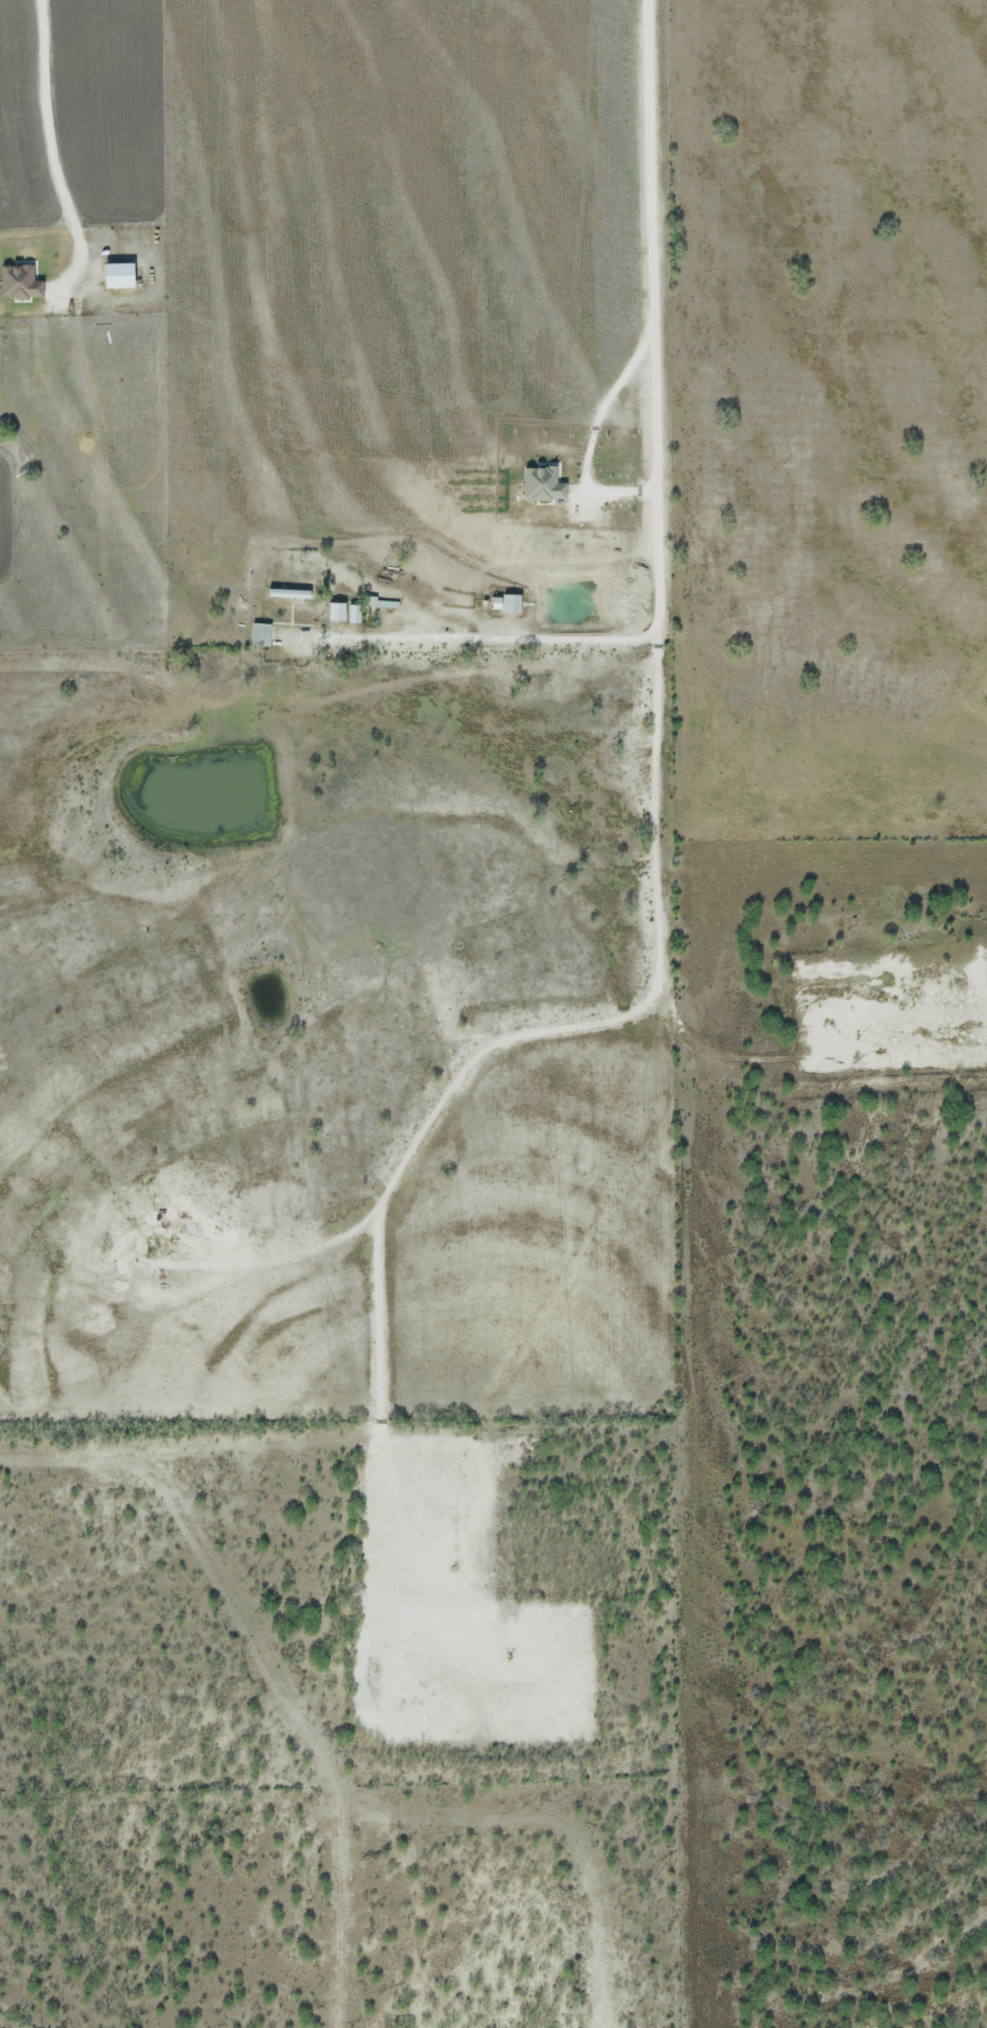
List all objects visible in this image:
building: (298, 584)
building: (511, 603)
building: (336, 612)
building: (260, 634)

